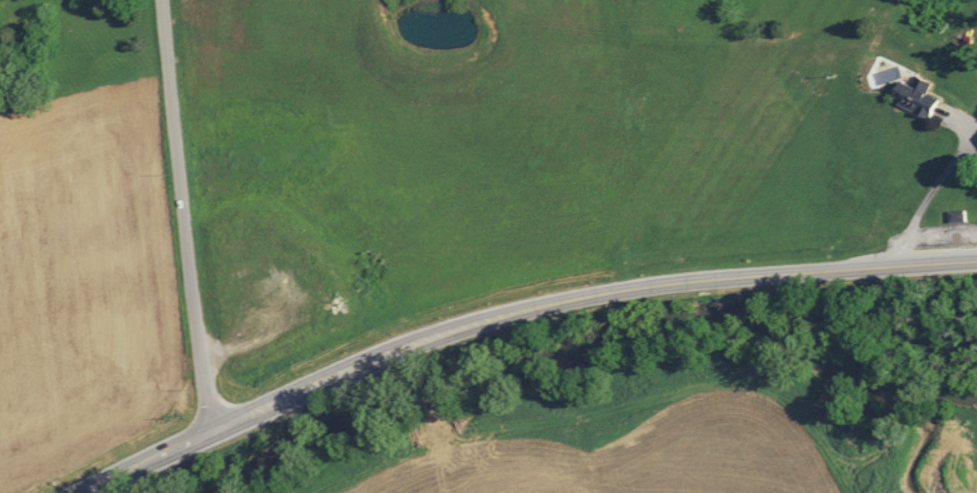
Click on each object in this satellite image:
building: (911, 97)
road: (929, 193)
road: (184, 218)
road: (515, 314)

